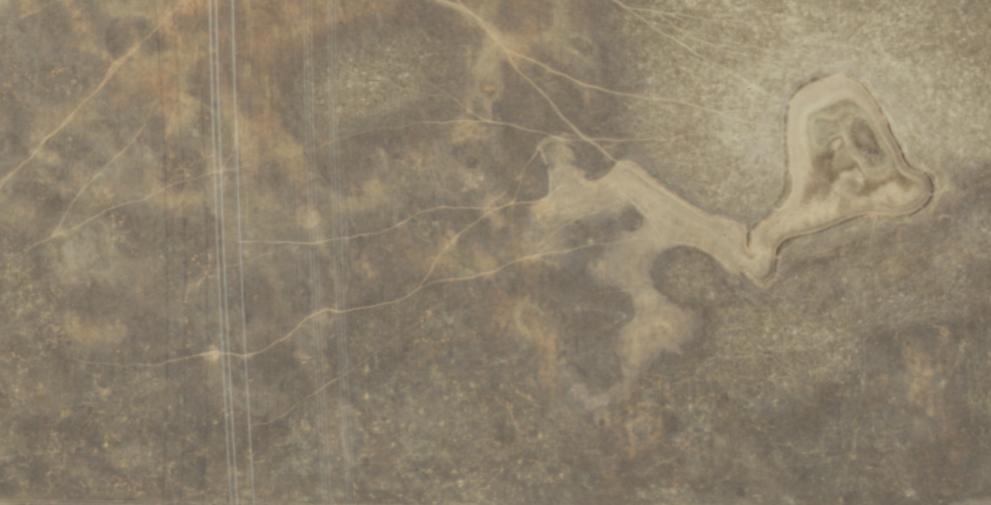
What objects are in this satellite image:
road: (449, 5)

